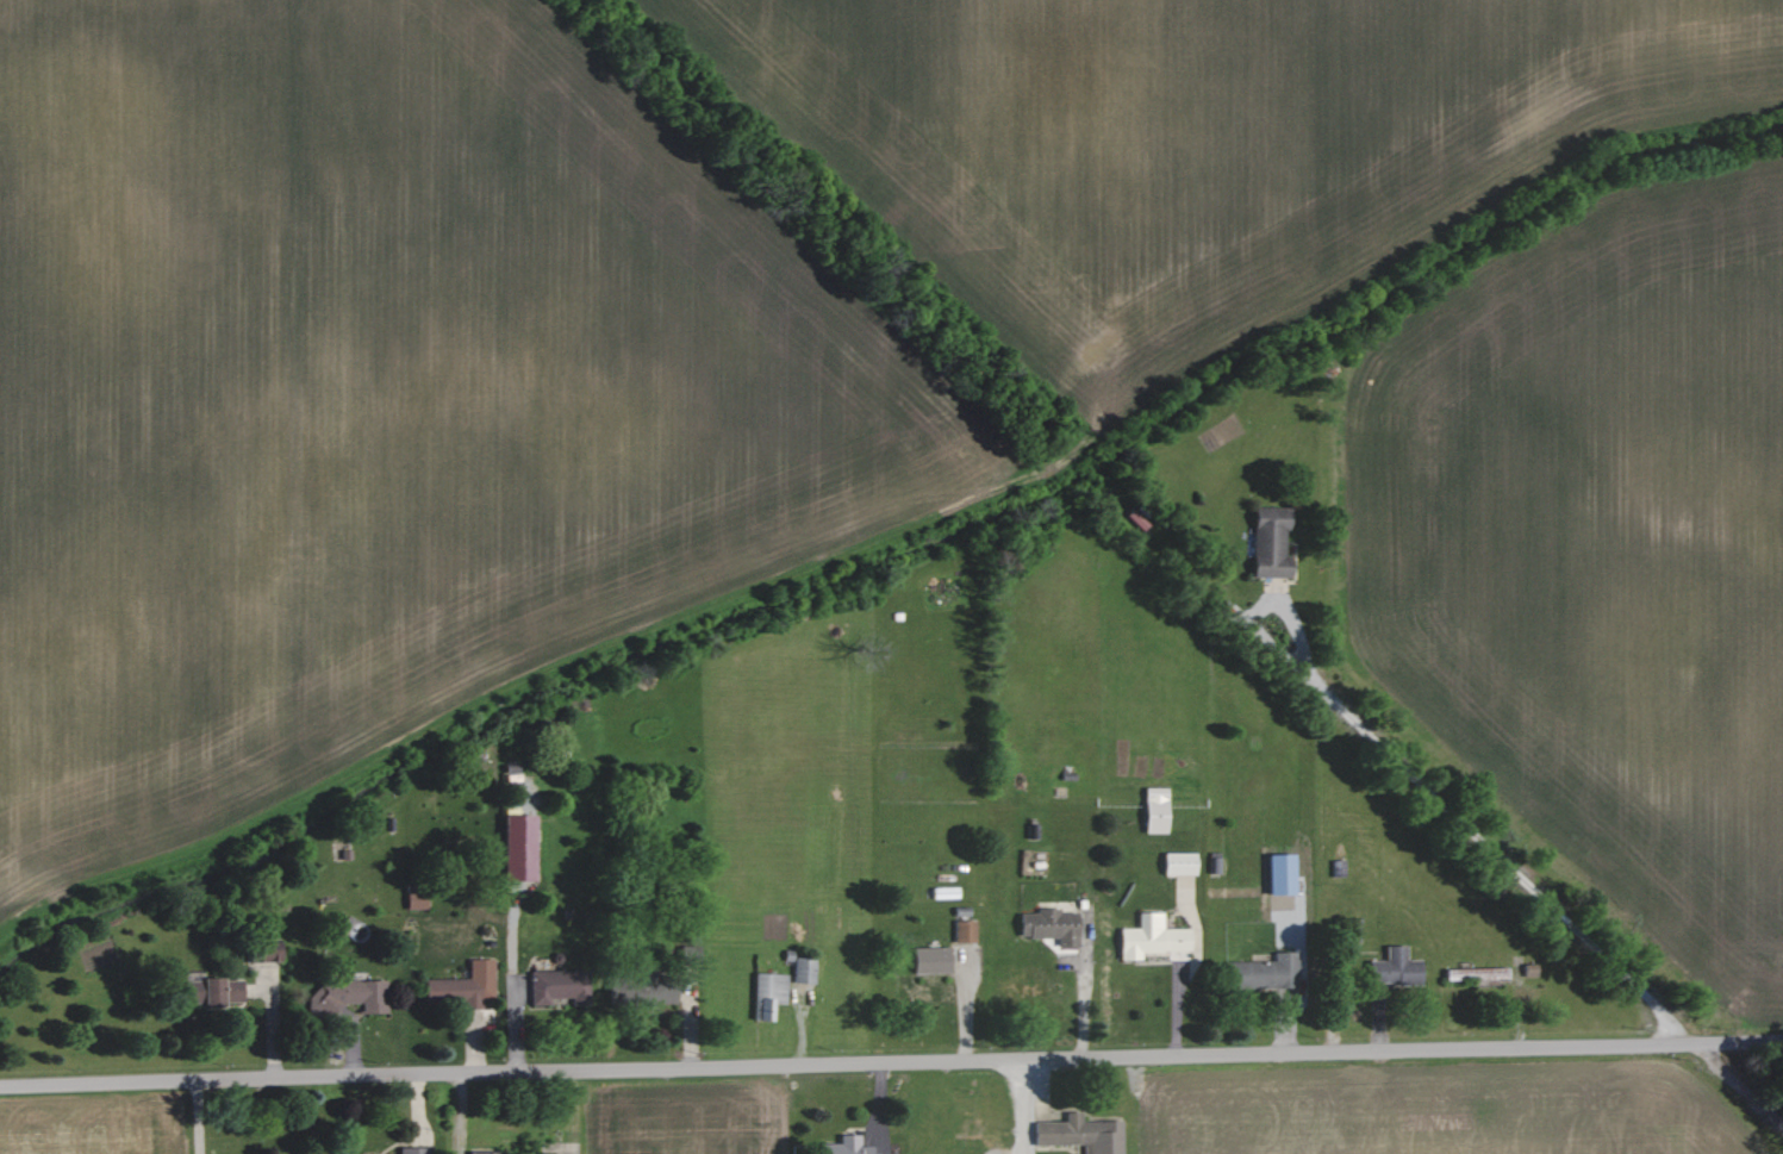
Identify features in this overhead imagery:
building: (1271, 542)
road: (1430, 790)
building: (1157, 810)
building: (519, 847)
building: (416, 899)
building: (1052, 925)
building: (965, 930)
building: (1153, 938)
building: (263, 950)
building: (931, 960)
building: (1395, 968)
building: (804, 971)
building: (1263, 972)
building: (1477, 973)
building: (465, 985)
building: (560, 986)
building: (213, 991)
building: (652, 991)
building: (768, 994)
building: (350, 996)
road: (891, 1063)
road: (1022, 1108)
building: (1081, 1134)
building: (846, 1146)
building: (413, 1150)
building: (481, 1152)

